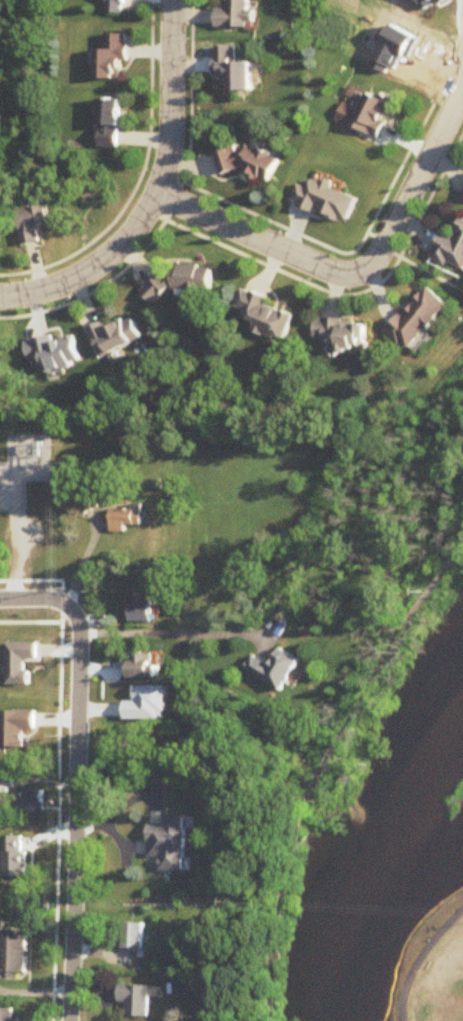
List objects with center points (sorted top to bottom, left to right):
building: (113, 7)
building: (234, 16)
building: (109, 59)
building: (233, 72)
building: (371, 116)
building: (107, 125)
building: (249, 164)
road: (159, 196)
building: (462, 198)
building: (31, 225)
building: (450, 251)
road: (355, 269)
road: (422, 270)
building: (183, 281)
building: (264, 316)
building: (418, 319)
building: (342, 335)
building: (114, 337)
building: (125, 519)
road: (37, 601)
building: (139, 611)
road: (162, 628)
building: (20, 647)
building: (4, 665)
building: (139, 666)
building: (274, 669)
building: (33, 708)
road: (327, 755)
building: (30, 803)
road: (73, 816)
river: (437, 821)
building: (167, 844)
building: (28, 848)
river: (382, 863)
building: (130, 936)
building: (12, 956)
road: (419, 959)
park: (432, 970)
building: (134, 1001)
building: (6, 1015)

